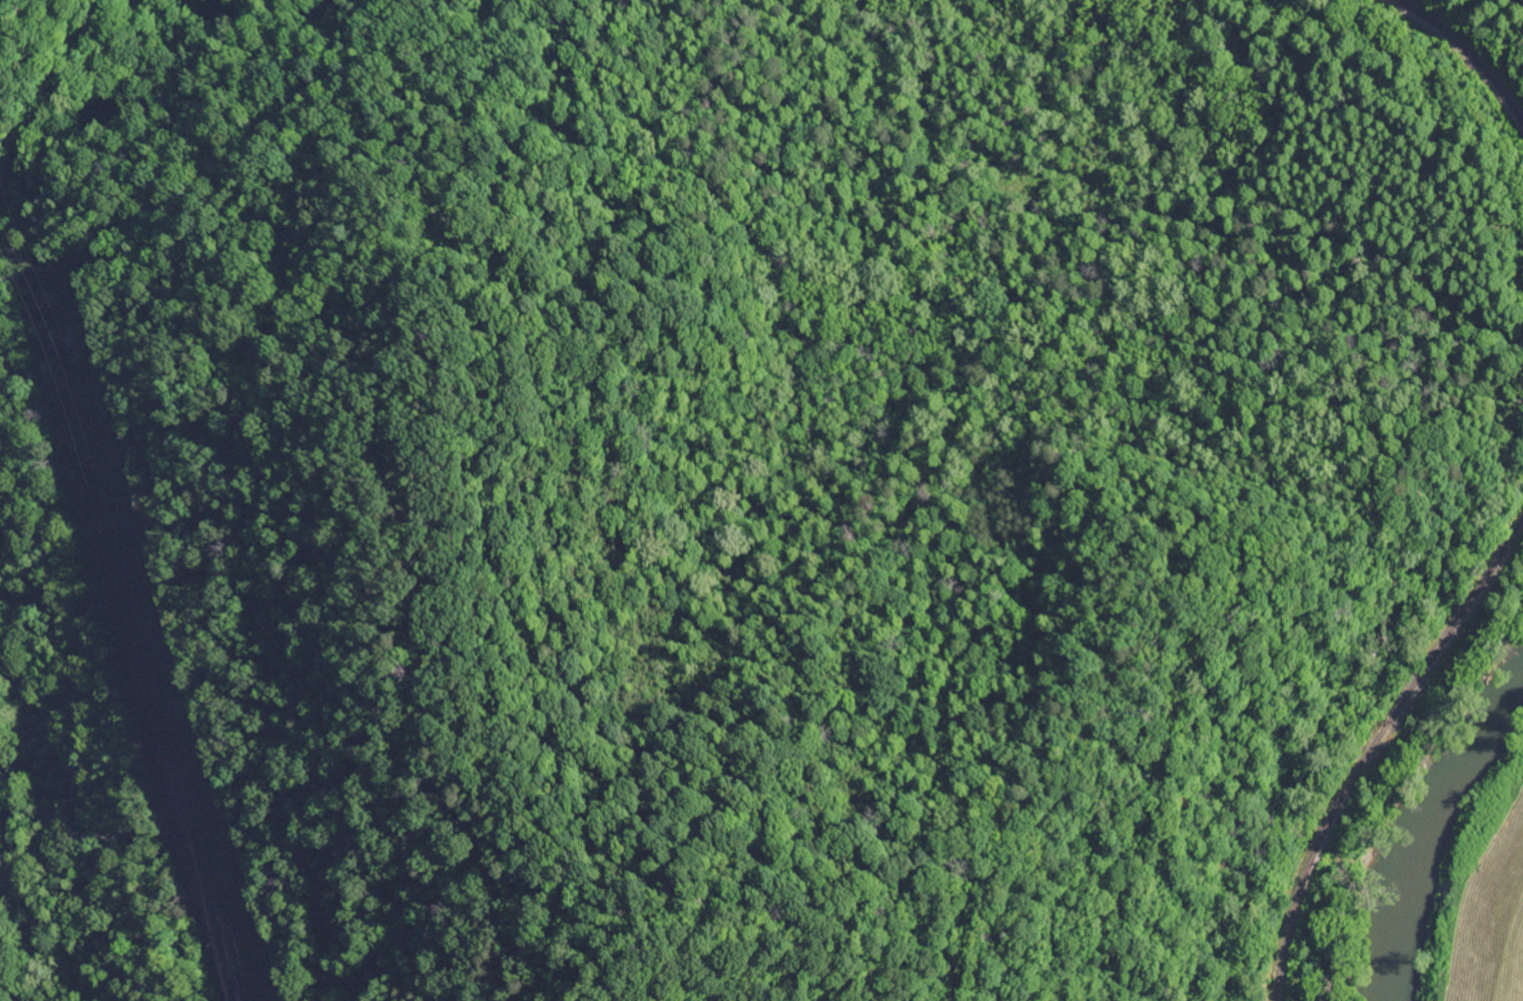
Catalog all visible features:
railway: (1467, 53)
railway: (1373, 746)
river: (1422, 834)

